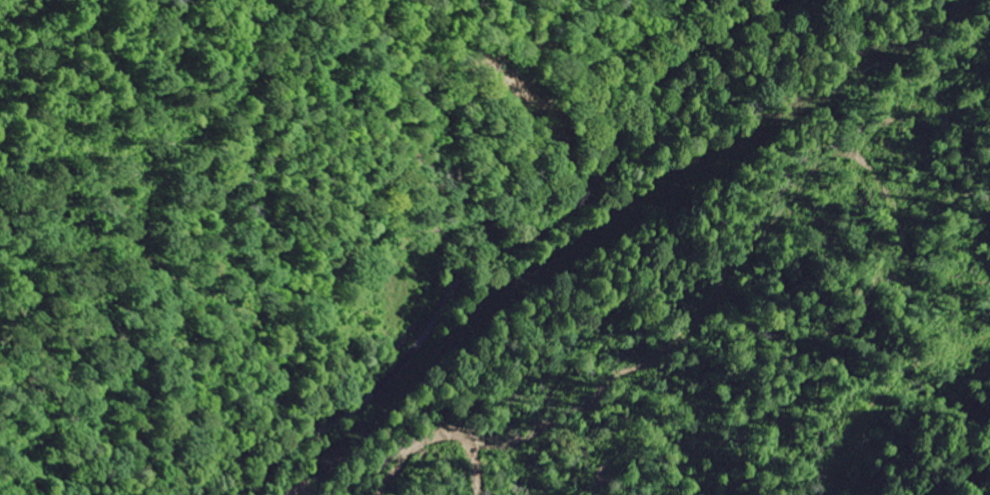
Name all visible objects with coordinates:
road: (517, 239)

